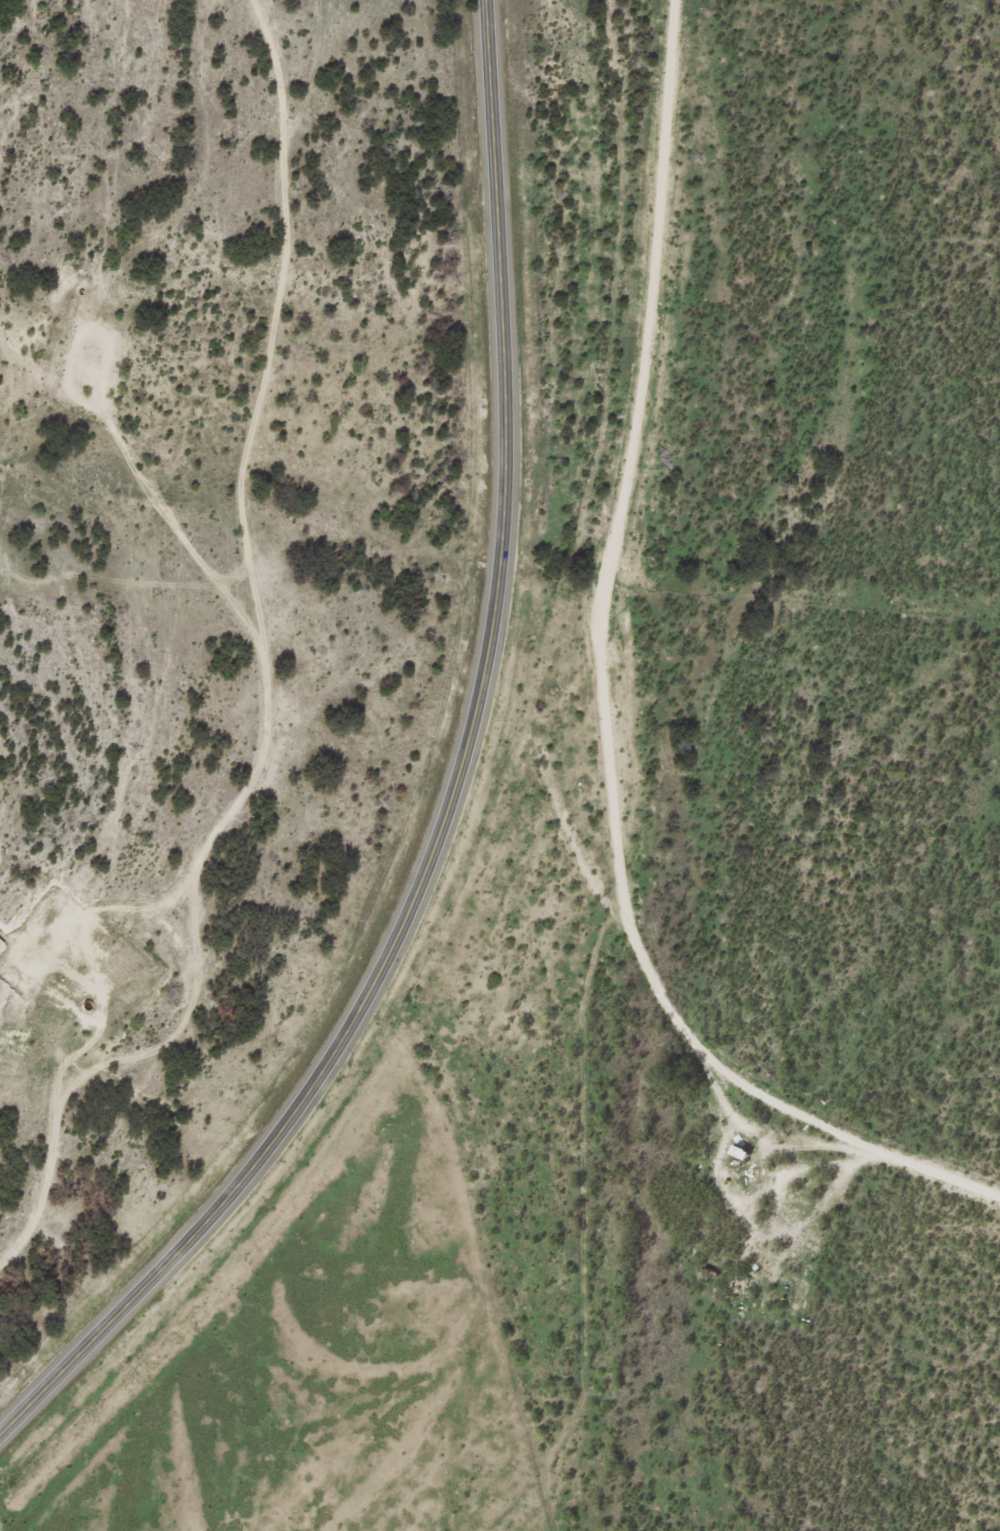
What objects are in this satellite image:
road: (452, 790)
road: (95, 1127)
building: (741, 1152)

